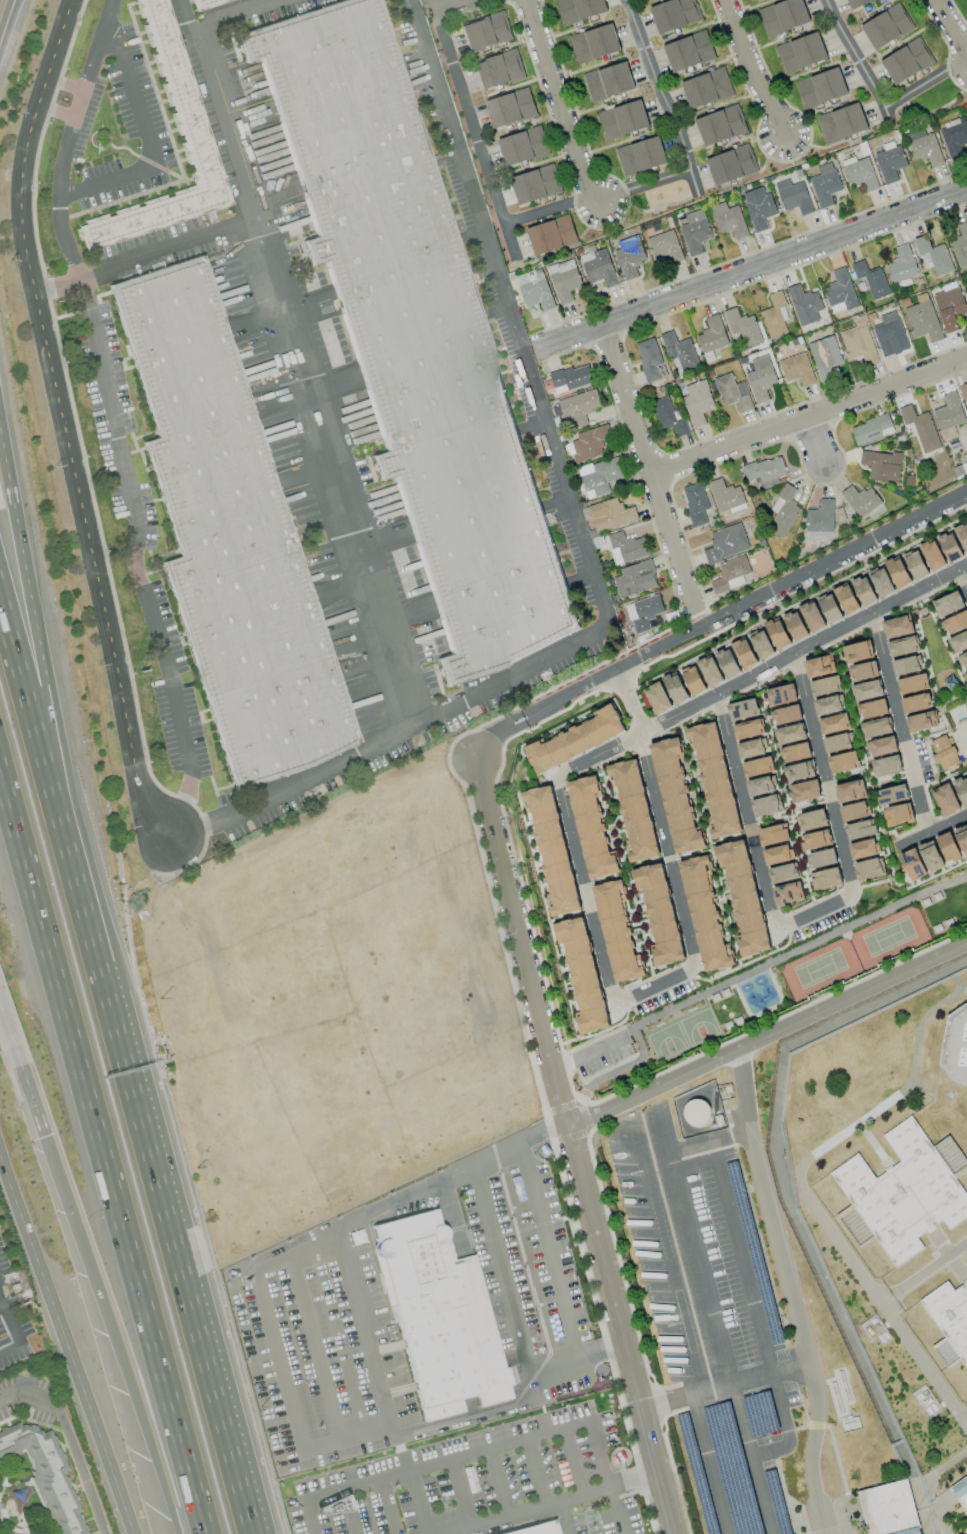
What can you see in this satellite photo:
building: (752, 0)
building: (203, 2)
building: (857, 3)
road: (456, 5)
building: (579, 9)
road: (233, 12)
building: (674, 14)
building: (783, 17)
road: (8, 24)
building: (886, 26)
road: (951, 27)
building: (485, 32)
building: (594, 43)
building: (688, 51)
building: (800, 52)
road: (857, 59)
building: (906, 61)
road: (755, 68)
building: (497, 69)
building: (608, 81)
road: (923, 83)
road: (66, 84)
building: (706, 88)
building: (821, 88)
road: (662, 98)
road: (562, 101)
building: (510, 108)
road: (58, 113)
building: (187, 115)
building: (622, 119)
building: (841, 123)
building: (720, 125)
road: (474, 128)
road: (68, 139)
building: (954, 139)
road: (149, 141)
building: (522, 146)
building: (923, 147)
building: (640, 156)
building: (731, 165)
building: (859, 172)
building: (824, 184)
building: (534, 185)
road: (642, 185)
building: (793, 196)
building: (758, 207)
road: (549, 209)
building: (728, 219)
building: (694, 232)
building: (551, 235)
building: (665, 246)
building: (960, 246)
road: (169, 249)
building: (629, 255)
building: (933, 255)
building: (902, 265)
building: (598, 267)
road: (755, 269)
building: (871, 279)
building: (563, 280)
road: (58, 286)
building: (535, 290)
building: (840, 292)
building: (804, 305)
building: (949, 306)
building: (775, 315)
building: (923, 321)
building: (742, 327)
building: (411, 328)
building: (887, 330)
building: (711, 337)
building: (858, 341)
building: (679, 349)
building: (824, 357)
road: (295, 358)
building: (650, 360)
building: (797, 369)
building: (571, 378)
building: (760, 378)
building: (732, 392)
building: (964, 393)
building: (696, 401)
building: (578, 407)
road: (808, 415)
building: (949, 415)
building: (668, 416)
road: (62, 422)
building: (920, 428)
building: (871, 429)
road: (812, 441)
building: (588, 443)
building: (881, 465)
road: (649, 471)
building: (764, 472)
building: (599, 476)
building: (726, 496)
building: (861, 500)
building: (695, 503)
building: (783, 511)
building: (610, 514)
building: (820, 519)
building: (226, 530)
building: (962, 534)
road: (20, 538)
road: (582, 542)
building: (726, 542)
building: (950, 546)
building: (626, 547)
building: (933, 555)
road: (138, 559)
building: (916, 564)
building: (898, 572)
building: (729, 574)
building: (635, 578)
road: (964, 578)
building: (882, 582)
building: (864, 590)
building: (846, 598)
road: (751, 602)
building: (948, 604)
building: (648, 607)
building: (831, 609)
building: (813, 616)
building: (955, 623)
building: (796, 626)
building: (897, 626)
building: (778, 633)
building: (959, 642)
building: (762, 644)
building: (902, 646)
building: (857, 652)
building: (745, 653)
building: (963, 660)
building: (728, 663)
road: (14, 664)
building: (820, 666)
building: (905, 666)
building: (710, 671)
building: (861, 672)
road: (763, 674)
building: (965, 676)
building: (694, 680)
road: (33, 683)
building: (912, 684)
building: (825, 686)
building: (676, 688)
building: (867, 690)
building: (781, 695)
building: (658, 698)
building: (915, 703)
building: (827, 705)
building: (872, 709)
building: (742, 710)
building: (786, 715)
road: (510, 719)
building: (921, 721)
building: (834, 723)
road: (901, 725)
road: (516, 728)
building: (876, 728)
building: (748, 729)
road: (548, 732)
building: (790, 733)
road: (485, 739)
building: (576, 739)
building: (837, 743)
building: (882, 746)
building: (751, 748)
road: (476, 750)
building: (796, 752)
building: (943, 752)
building: (843, 762)
building: (886, 766)
building: (758, 767)
building: (797, 771)
road: (869, 777)
building: (715, 779)
road: (694, 783)
building: (760, 786)
building: (961, 789)
building: (805, 791)
building: (851, 791)
road: (785, 794)
building: (892, 795)
road: (486, 797)
building: (676, 797)
building: (946, 800)
road: (810, 804)
building: (765, 806)
building: (633, 808)
building: (854, 811)
building: (897, 815)
road: (770, 820)
building: (812, 820)
building: (592, 828)
building: (860, 829)
road: (929, 832)
building: (773, 835)
road: (730, 837)
building: (816, 840)
building: (953, 844)
building: (552, 849)
building: (862, 849)
road: (690, 854)
building: (777, 854)
building: (931, 856)
building: (823, 858)
road: (646, 861)
building: (912, 864)
building: (868, 869)
road: (626, 872)
building: (783, 873)
road: (928, 877)
road: (605, 878)
building: (826, 878)
road: (32, 890)
building: (788, 893)
building: (743, 896)
road: (725, 907)
road: (817, 910)
building: (659, 913)
building: (704, 914)
building: (616, 930)
road: (552, 943)
road: (92, 948)
road: (745, 963)
road: (687, 971)
building: (582, 974)
road: (741, 976)
park: (773, 985)
road: (774, 1019)
road: (765, 1031)
road: (561, 1042)
building: (955, 1046)
road: (16, 1053)
road: (588, 1055)
building: (696, 1113)
road: (38, 1117)
road: (582, 1187)
road: (799, 1190)
building: (907, 1191)
road: (450, 1220)
road: (547, 1252)
road: (741, 1257)
road: (498, 1269)
road: (138, 1271)
road: (923, 1271)
road: (789, 1289)
road: (470, 1291)
road: (708, 1303)
road: (498, 1304)
building: (951, 1316)
building: (439, 1318)
road: (11, 1327)
road: (363, 1329)
road: (116, 1333)
road: (67, 1343)
road: (314, 1347)
building: (946, 1353)
road: (203, 1355)
road: (283, 1379)
road: (724, 1386)
road: (28, 1396)
road: (465, 1456)
road: (573, 1461)
road: (709, 1465)
road: (81, 1469)
road: (535, 1472)
building: (43, 1473)
road: (634, 1480)
road: (499, 1482)
road: (929, 1483)
building: (961, 1491)
road: (459, 1492)
road: (418, 1503)
road: (388, 1507)
building: (889, 1509)
road: (520, 1510)
road: (616, 1510)
road: (349, 1513)
road: (563, 1517)
building: (534, 1529)

